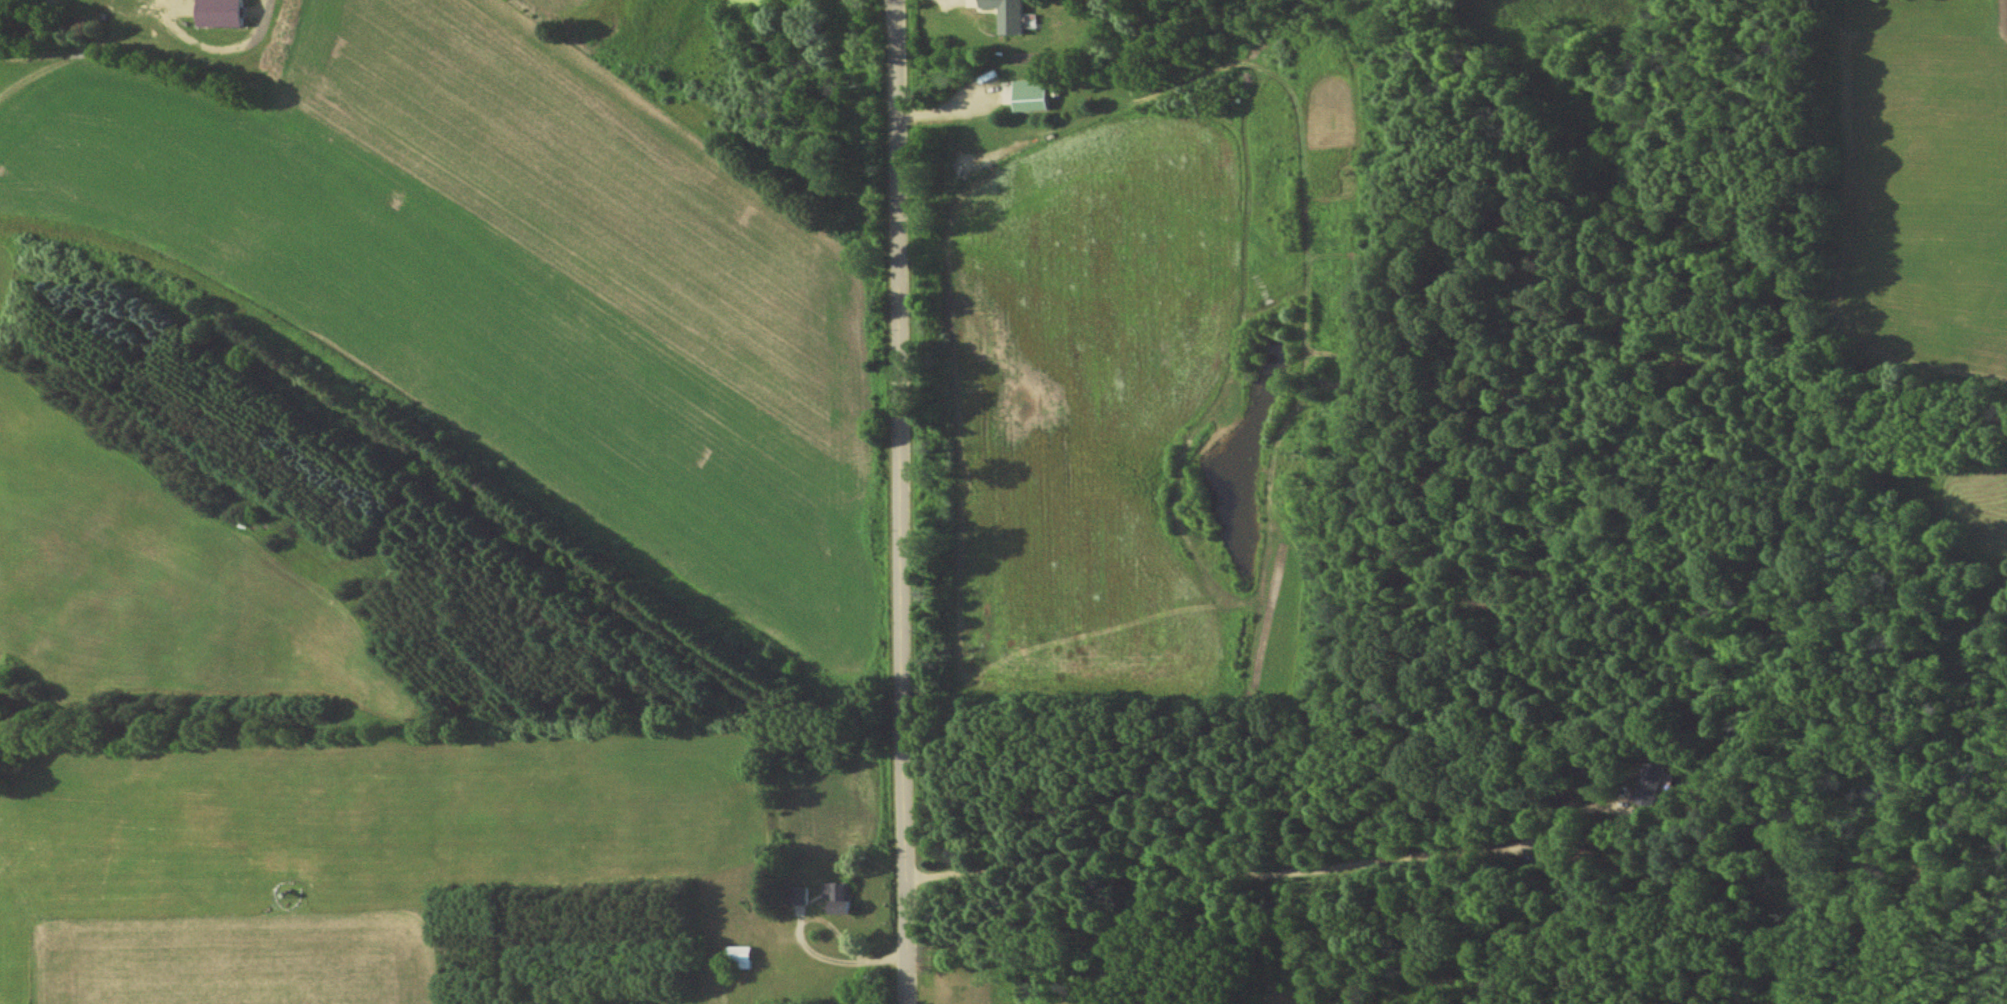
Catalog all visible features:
building: (225, 13)
building: (1012, 15)
building: (1034, 94)
road: (900, 501)
building: (1642, 791)
road: (1269, 878)
building: (800, 895)
building: (841, 896)
road: (815, 921)
building: (740, 954)

